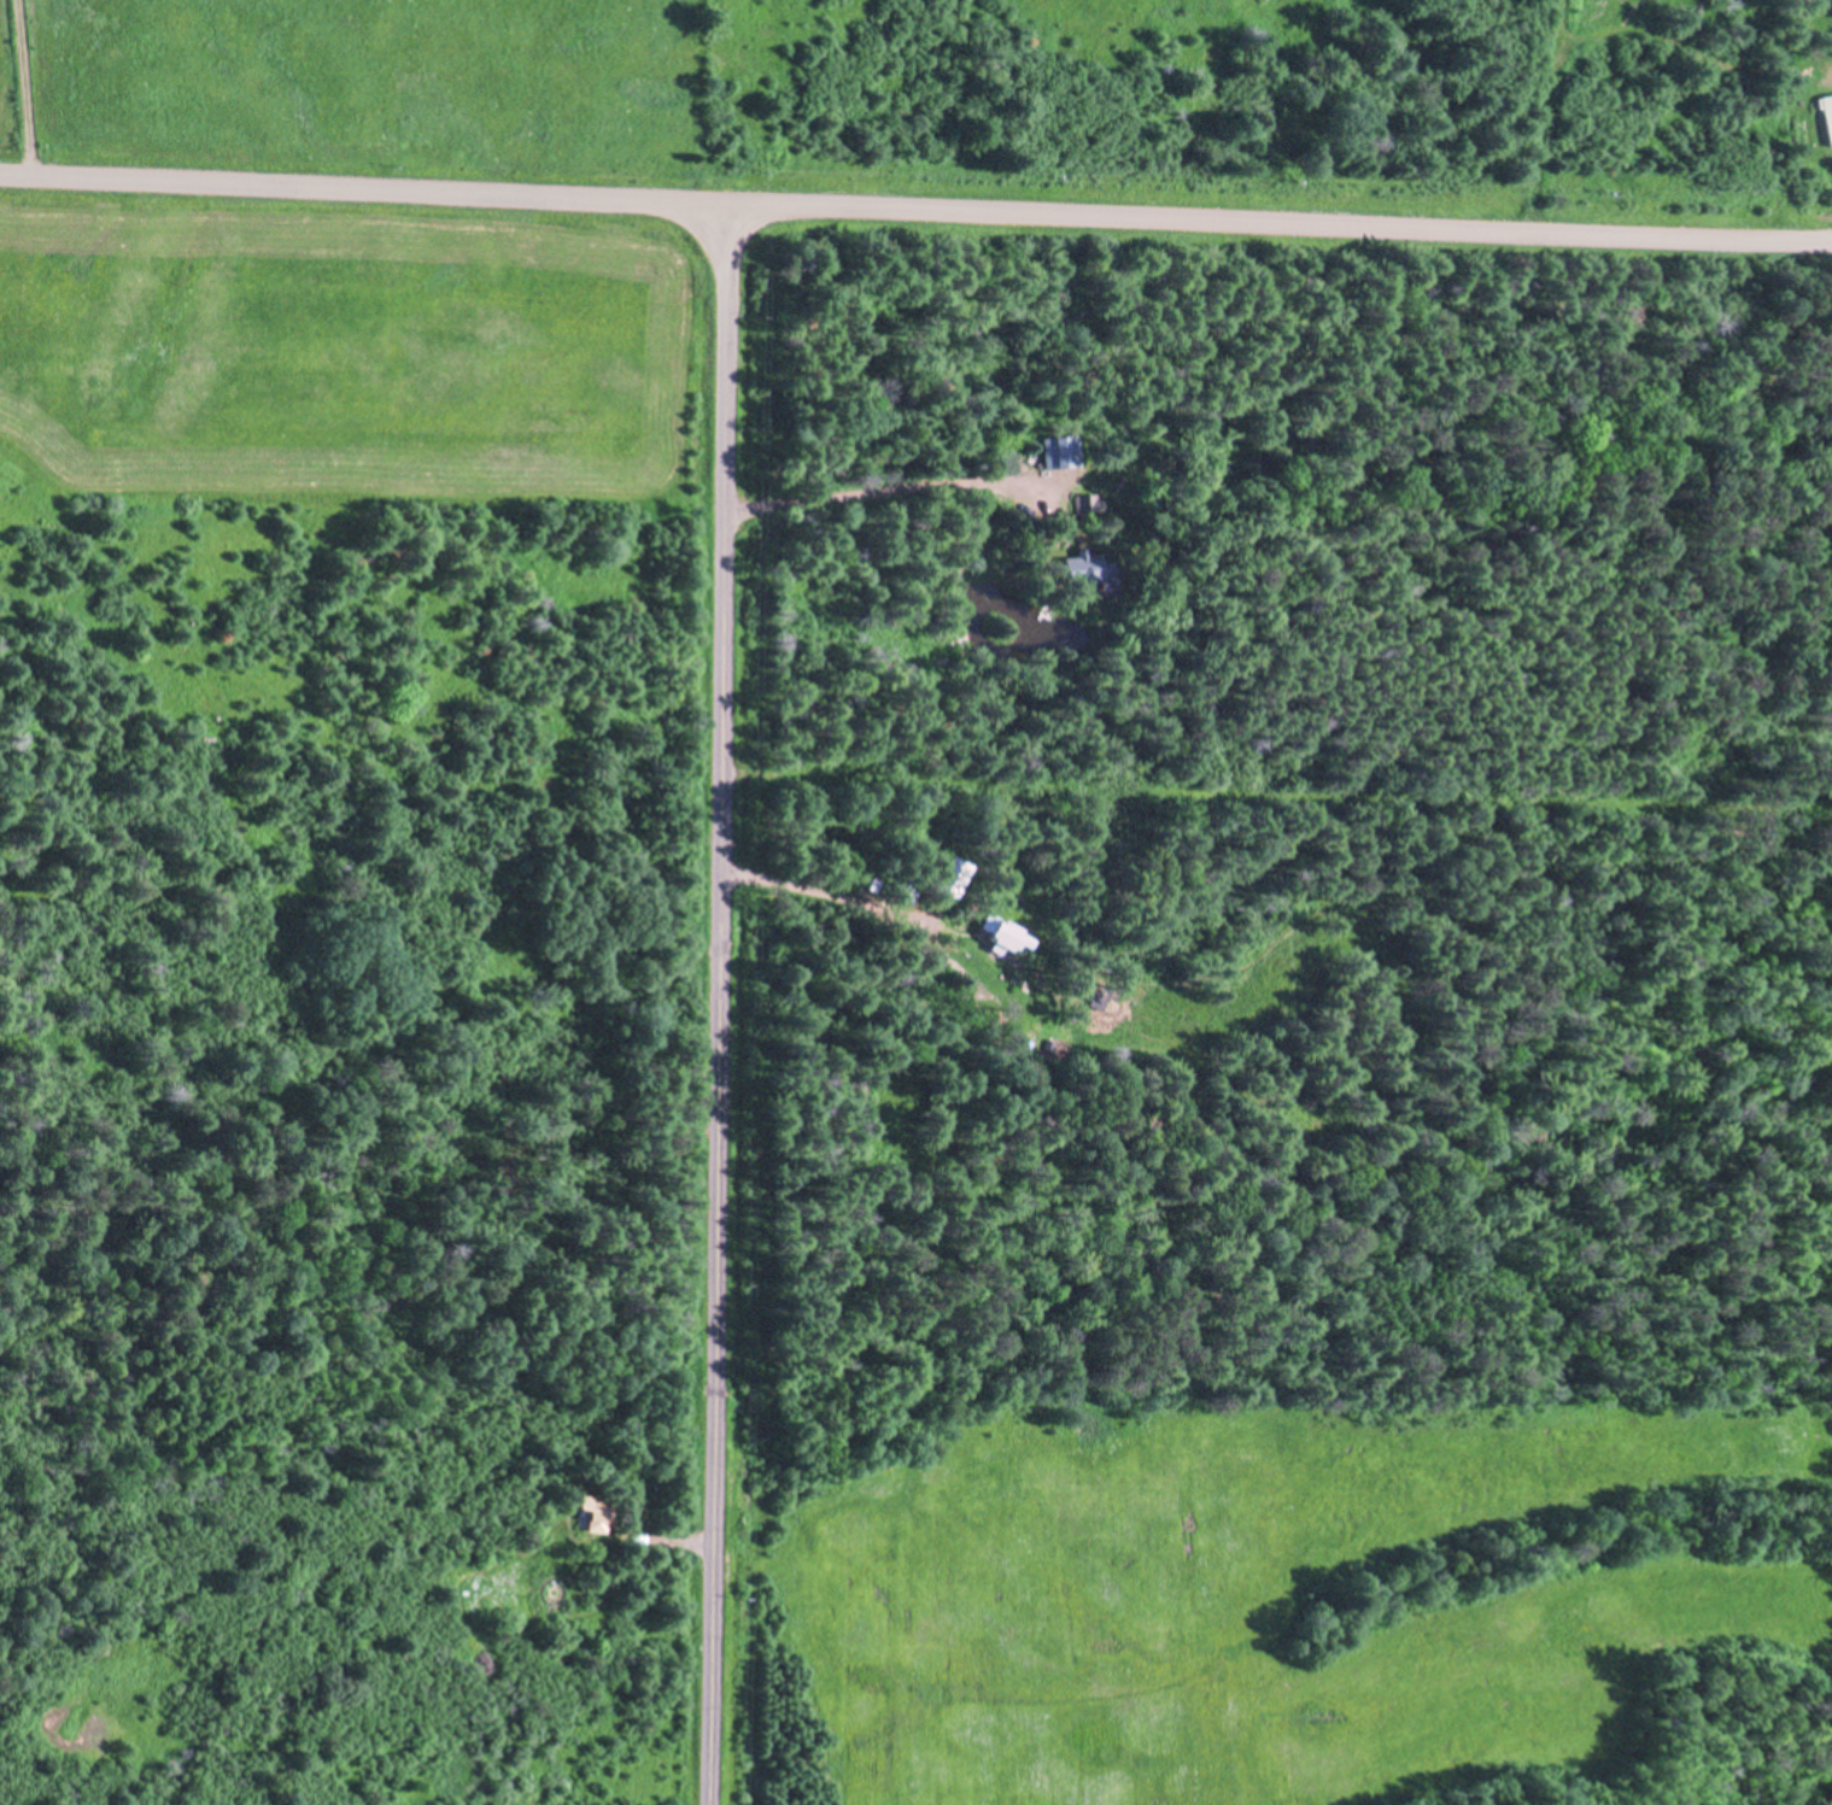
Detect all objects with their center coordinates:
building: (1831, 4)
road: (22, 88)
building: (1827, 116)
road: (915, 212)
crop: (349, 354)
building: (1057, 450)
road: (886, 488)
building: (1084, 502)
building: (1079, 565)
road: (1276, 786)
building: (947, 874)
building: (902, 891)
road: (827, 897)
building: (996, 932)
building: (1099, 996)
road: (718, 1007)
building: (597, 1511)
road: (656, 1545)
crop: (1241, 1584)

